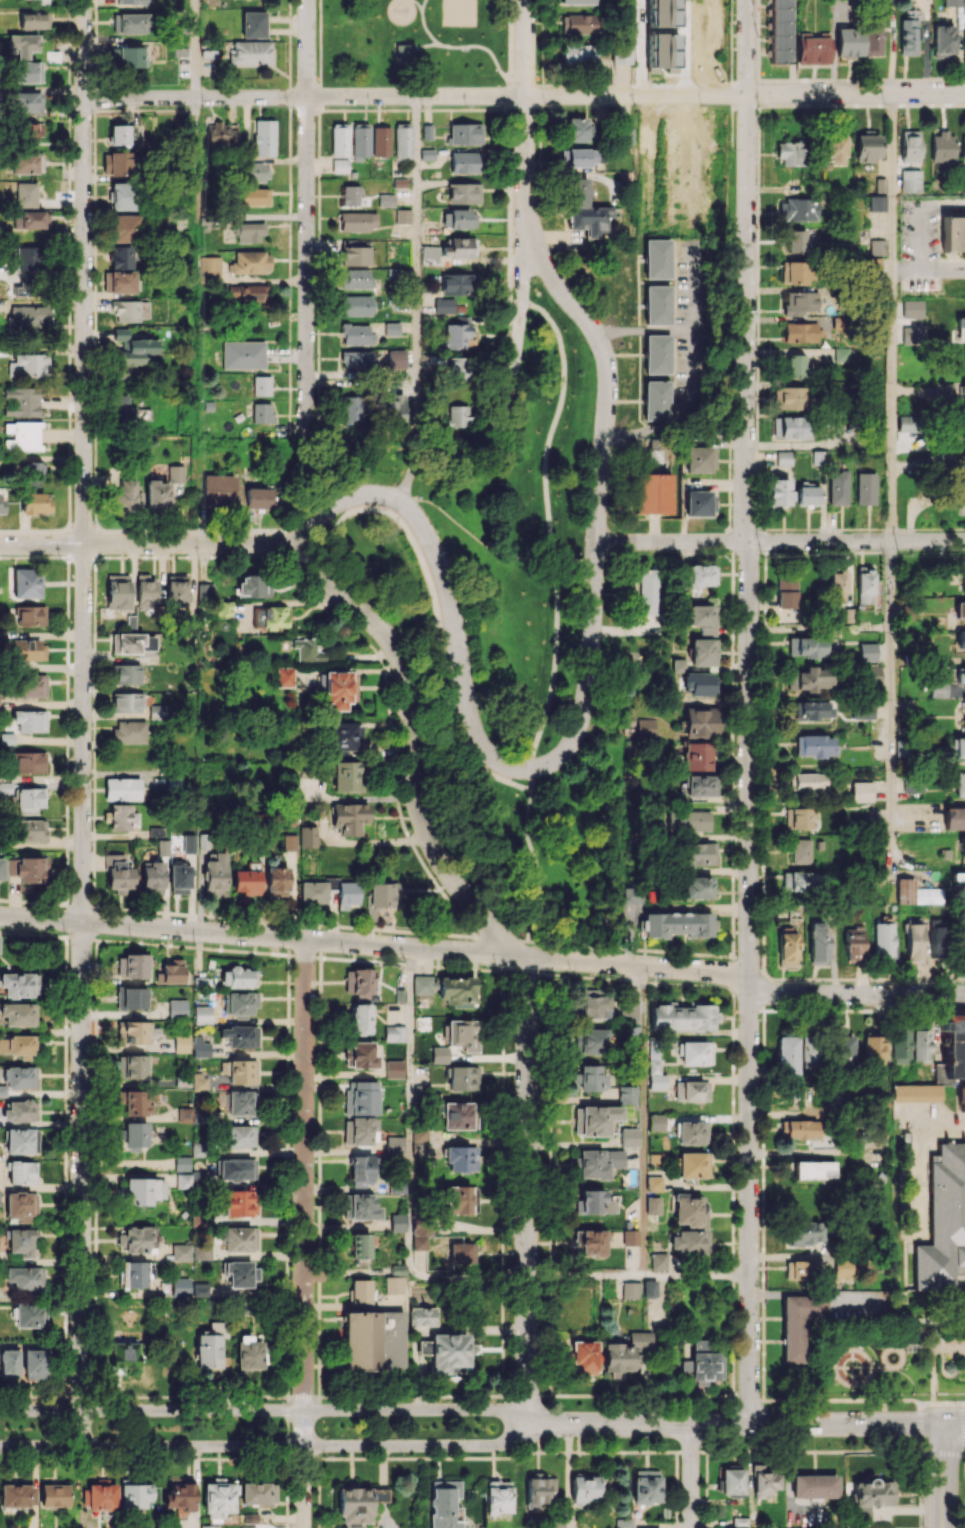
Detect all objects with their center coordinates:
building: (131, 1)
building: (578, 1)
building: (43, 2)
building: (952, 3)
road: (417, 4)
park: (458, 13)
building: (663, 13)
building: (34, 20)
building: (130, 23)
road: (423, 23)
building: (579, 23)
building: (252, 25)
building: (779, 30)
building: (908, 33)
building: (871, 38)
building: (964, 39)
building: (942, 40)
building: (847, 41)
park: (414, 43)
building: (22, 45)
road: (470, 46)
road: (288, 48)
road: (320, 48)
road: (526, 48)
building: (663, 50)
building: (812, 50)
building: (403, 52)
building: (250, 53)
building: (578, 54)
building: (621, 54)
building: (207, 55)
building: (131, 57)
building: (27, 71)
road: (525, 96)
building: (24, 101)
road: (195, 101)
building: (576, 129)
building: (28, 132)
building: (221, 132)
building: (465, 133)
building: (118, 134)
building: (625, 135)
building: (264, 137)
building: (341, 140)
building: (361, 140)
building: (381, 141)
building: (402, 141)
building: (909, 146)
building: (834, 147)
building: (866, 147)
building: (942, 147)
building: (963, 147)
building: (790, 153)
road: (526, 156)
road: (509, 157)
building: (582, 157)
building: (26, 162)
building: (465, 162)
building: (118, 164)
building: (339, 166)
building: (255, 172)
building: (910, 180)
building: (26, 193)
building: (463, 193)
building: (350, 195)
building: (121, 196)
building: (249, 196)
building: (386, 200)
building: (877, 203)
building: (585, 209)
building: (798, 209)
road: (306, 214)
building: (402, 216)
building: (460, 218)
building: (30, 220)
building: (357, 221)
parking lot: (923, 223)
building: (122, 228)
building: (249, 232)
building: (953, 235)
building: (795, 241)
building: (461, 247)
building: (876, 247)
building: (355, 255)
building: (429, 255)
building: (120, 257)
building: (27, 258)
building: (657, 258)
road: (416, 260)
building: (250, 262)
building: (872, 265)
road: (932, 268)
building: (210, 269)
road: (895, 269)
building: (794, 272)
building: (356, 279)
building: (118, 282)
building: (456, 283)
parking lot: (920, 284)
building: (799, 302)
building: (356, 305)
building: (443, 305)
building: (657, 305)
building: (911, 308)
road: (520, 310)
road: (889, 316)
building: (28, 318)
building: (960, 328)
building: (391, 329)
road: (643, 329)
building: (119, 332)
building: (801, 332)
building: (356, 334)
building: (912, 334)
building: (455, 335)
building: (135, 351)
building: (243, 354)
building: (657, 354)
building: (839, 354)
building: (395, 359)
building: (964, 359)
building: (356, 360)
building: (29, 365)
building: (795, 365)
building: (457, 369)
road: (694, 370)
building: (261, 385)
building: (942, 393)
building: (963, 394)
building: (789, 397)
building: (657, 400)
building: (21, 402)
building: (392, 408)
building: (351, 409)
building: (122, 411)
building: (263, 412)
building: (457, 416)
building: (790, 427)
building: (908, 428)
building: (964, 433)
building: (22, 436)
building: (658, 449)
building: (784, 457)
building: (699, 459)
road: (601, 461)
building: (963, 461)
building: (33, 471)
building: (175, 474)
road: (399, 478)
building: (838, 487)
building: (865, 488)
building: (218, 490)
building: (778, 492)
building: (652, 493)
building: (156, 495)
building: (807, 495)
building: (128, 496)
building: (960, 497)
building: (259, 498)
building: (1, 503)
building: (35, 503)
building: (699, 504)
road: (548, 526)
road: (157, 532)
road: (307, 539)
road: (780, 541)
road: (153, 543)
road: (490, 548)
building: (700, 575)
building: (26, 582)
building: (963, 583)
building: (865, 584)
building: (254, 586)
building: (837, 586)
building: (177, 589)
building: (649, 591)
building: (787, 591)
building: (117, 592)
building: (145, 592)
road: (281, 603)
park: (499, 607)
building: (959, 611)
building: (31, 615)
building: (271, 617)
building: (702, 618)
road: (439, 619)
building: (960, 640)
building: (132, 643)
building: (807, 647)
building: (28, 649)
building: (307, 650)
building: (866, 651)
building: (703, 652)
building: (678, 665)
building: (126, 674)
building: (870, 674)
building: (284, 676)
building: (810, 678)
building: (960, 678)
building: (701, 683)
building: (29, 685)
building: (339, 689)
building: (938, 689)
building: (126, 702)
road: (890, 708)
building: (862, 709)
building: (812, 710)
road: (749, 711)
building: (964, 717)
building: (29, 720)
road: (83, 722)
building: (701, 722)
building: (646, 726)
building: (129, 731)
building: (343, 736)
building: (7, 738)
building: (815, 745)
building: (959, 748)
building: (698, 756)
building: (30, 762)
building: (345, 776)
road: (532, 779)
building: (808, 782)
building: (960, 784)
building: (702, 785)
building: (913, 786)
building: (5, 787)
building: (122, 789)
building: (861, 791)
road: (353, 798)
building: (30, 800)
road: (528, 813)
building: (121, 817)
building: (349, 817)
building: (799, 818)
building: (954, 818)
building: (689, 820)
building: (30, 830)
building: (308, 837)
road: (377, 840)
building: (288, 842)
building: (188, 843)
building: (162, 847)
building: (962, 847)
building: (800, 851)
building: (699, 853)
road: (536, 857)
building: (1, 868)
building: (31, 870)
building: (118, 873)
building: (214, 874)
building: (152, 877)
building: (958, 877)
building: (179, 878)
building: (245, 881)
building: (275, 881)
building: (797, 881)
building: (697, 885)
building: (312, 892)
building: (633, 892)
building: (916, 893)
building: (346, 894)
building: (651, 894)
building: (383, 895)
building: (678, 922)
road: (307, 924)
building: (883, 939)
building: (936, 941)
building: (816, 942)
building: (853, 942)
building: (914, 942)
building: (786, 945)
road: (484, 953)
building: (136, 966)
building: (169, 971)
building: (237, 977)
building: (359, 983)
building: (19, 984)
building: (423, 985)
building: (456, 990)
building: (130, 998)
building: (240, 1003)
building: (594, 1007)
building: (177, 1008)
building: (627, 1010)
building: (18, 1013)
building: (202, 1014)
building: (682, 1015)
building: (359, 1018)
building: (135, 1032)
building: (633, 1032)
building: (394, 1033)
building: (463, 1034)
building: (239, 1036)
building: (589, 1040)
building: (181, 1043)
building: (901, 1044)
building: (921, 1045)
building: (18, 1046)
building: (200, 1047)
building: (954, 1047)
building: (873, 1048)
building: (843, 1050)
building: (694, 1051)
building: (362, 1055)
building: (439, 1055)
building: (787, 1055)
building: (132, 1067)
building: (393, 1069)
building: (239, 1071)
building: (655, 1071)
building: (939, 1072)
building: (464, 1078)
building: (592, 1078)
building: (15, 1080)
building: (199, 1082)
building: (691, 1091)
building: (916, 1092)
building: (627, 1095)
building: (363, 1097)
building: (961, 1099)
building: (135, 1102)
building: (19, 1111)
building: (456, 1115)
building: (595, 1119)
road: (644, 1120)
building: (656, 1122)
building: (804, 1129)
building: (363, 1130)
building: (691, 1132)
building: (135, 1136)
building: (240, 1136)
building: (419, 1140)
building: (21, 1141)
building: (394, 1145)
building: (461, 1158)
road: (917, 1159)
building: (599, 1162)
building: (182, 1163)
building: (693, 1165)
road: (410, 1167)
building: (234, 1169)
building: (361, 1170)
building: (814, 1170)
building: (22, 1172)
building: (653, 1183)
building: (144, 1190)
road: (527, 1191)
building: (457, 1199)
building: (593, 1202)
building: (240, 1203)
building: (652, 1205)
building: (21, 1207)
building: (361, 1207)
building: (689, 1210)
building: (397, 1222)
building: (808, 1232)
road: (304, 1233)
building: (941, 1233)
building: (630, 1237)
building: (238, 1238)
building: (588, 1241)
building: (20, 1242)
building: (688, 1242)
building: (360, 1245)
building: (181, 1252)
building: (201, 1252)
building: (462, 1253)
building: (658, 1260)
building: (800, 1269)
building: (841, 1272)
building: (240, 1273)
building: (134, 1274)
road: (585, 1276)
road: (696, 1276)
building: (25, 1278)
building: (393, 1284)
building: (180, 1287)
building: (649, 1288)
building: (200, 1289)
building: (630, 1289)
building: (360, 1291)
road: (814, 1293)
building: (587, 1302)
building: (30, 1315)
building: (421, 1316)
building: (798, 1324)
building: (373, 1340)
building: (209, 1345)
building: (913, 1347)
park: (897, 1350)
building: (247, 1352)
building: (447, 1353)
building: (122, 1354)
building: (625, 1354)
building: (583, 1356)
building: (8, 1363)
building: (702, 1363)
building: (33, 1364)
building: (948, 1367)
street lamp: (954, 1403)
road: (963, 1403)
road: (919, 1405)
road: (264, 1410)
road: (951, 1421)
road: (919, 1423)
road: (731, 1424)
road: (964, 1426)
road: (265, 1445)
road: (919, 1446)
road: (964, 1450)
road: (944, 1451)
road: (938, 1474)
road: (690, 1476)
building: (732, 1481)
building: (764, 1481)
building: (813, 1486)
building: (585, 1488)
building: (646, 1489)
building: (538, 1491)
park: (961, 1492)
building: (257, 1493)
building: (134, 1494)
building: (378, 1494)
building: (16, 1495)
building: (53, 1495)
building: (180, 1496)
building: (101, 1497)
building: (497, 1497)
building: (869, 1497)
building: (217, 1498)
building: (443, 1504)
building: (353, 1507)
building: (623, 1523)
building: (555, 1524)
building: (208, 1526)
street lamp: (955, 1527)

